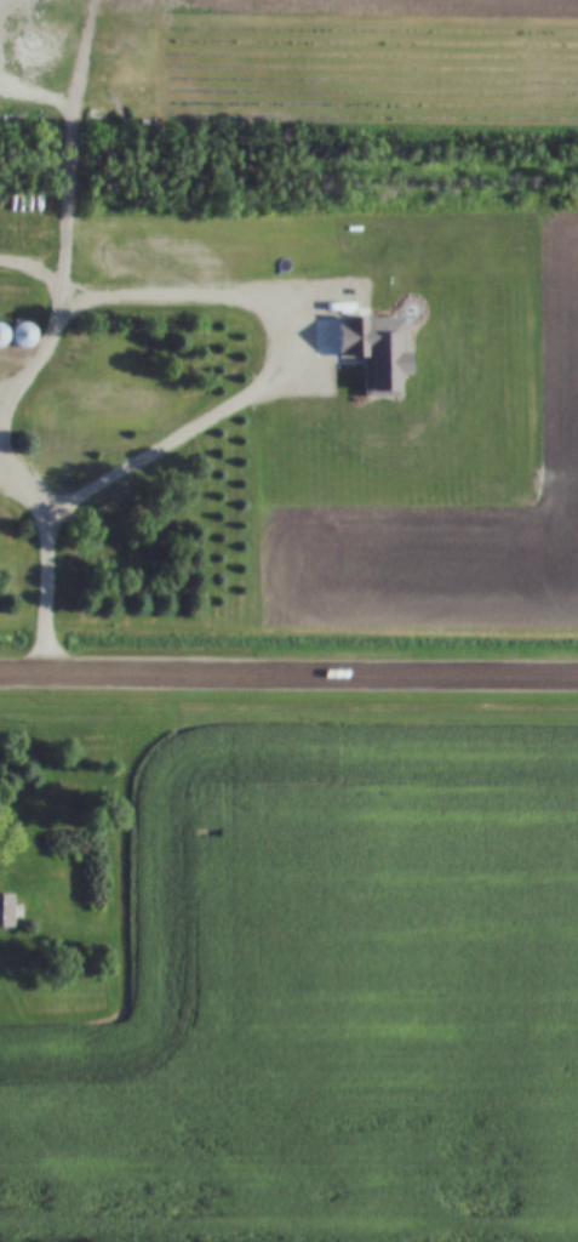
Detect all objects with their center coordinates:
road: (79, 44)
road: (65, 263)
building: (15, 336)
silo: (15, 336)
building: (99, 438)
road: (44, 549)
road: (288, 673)
building: (0, 910)

